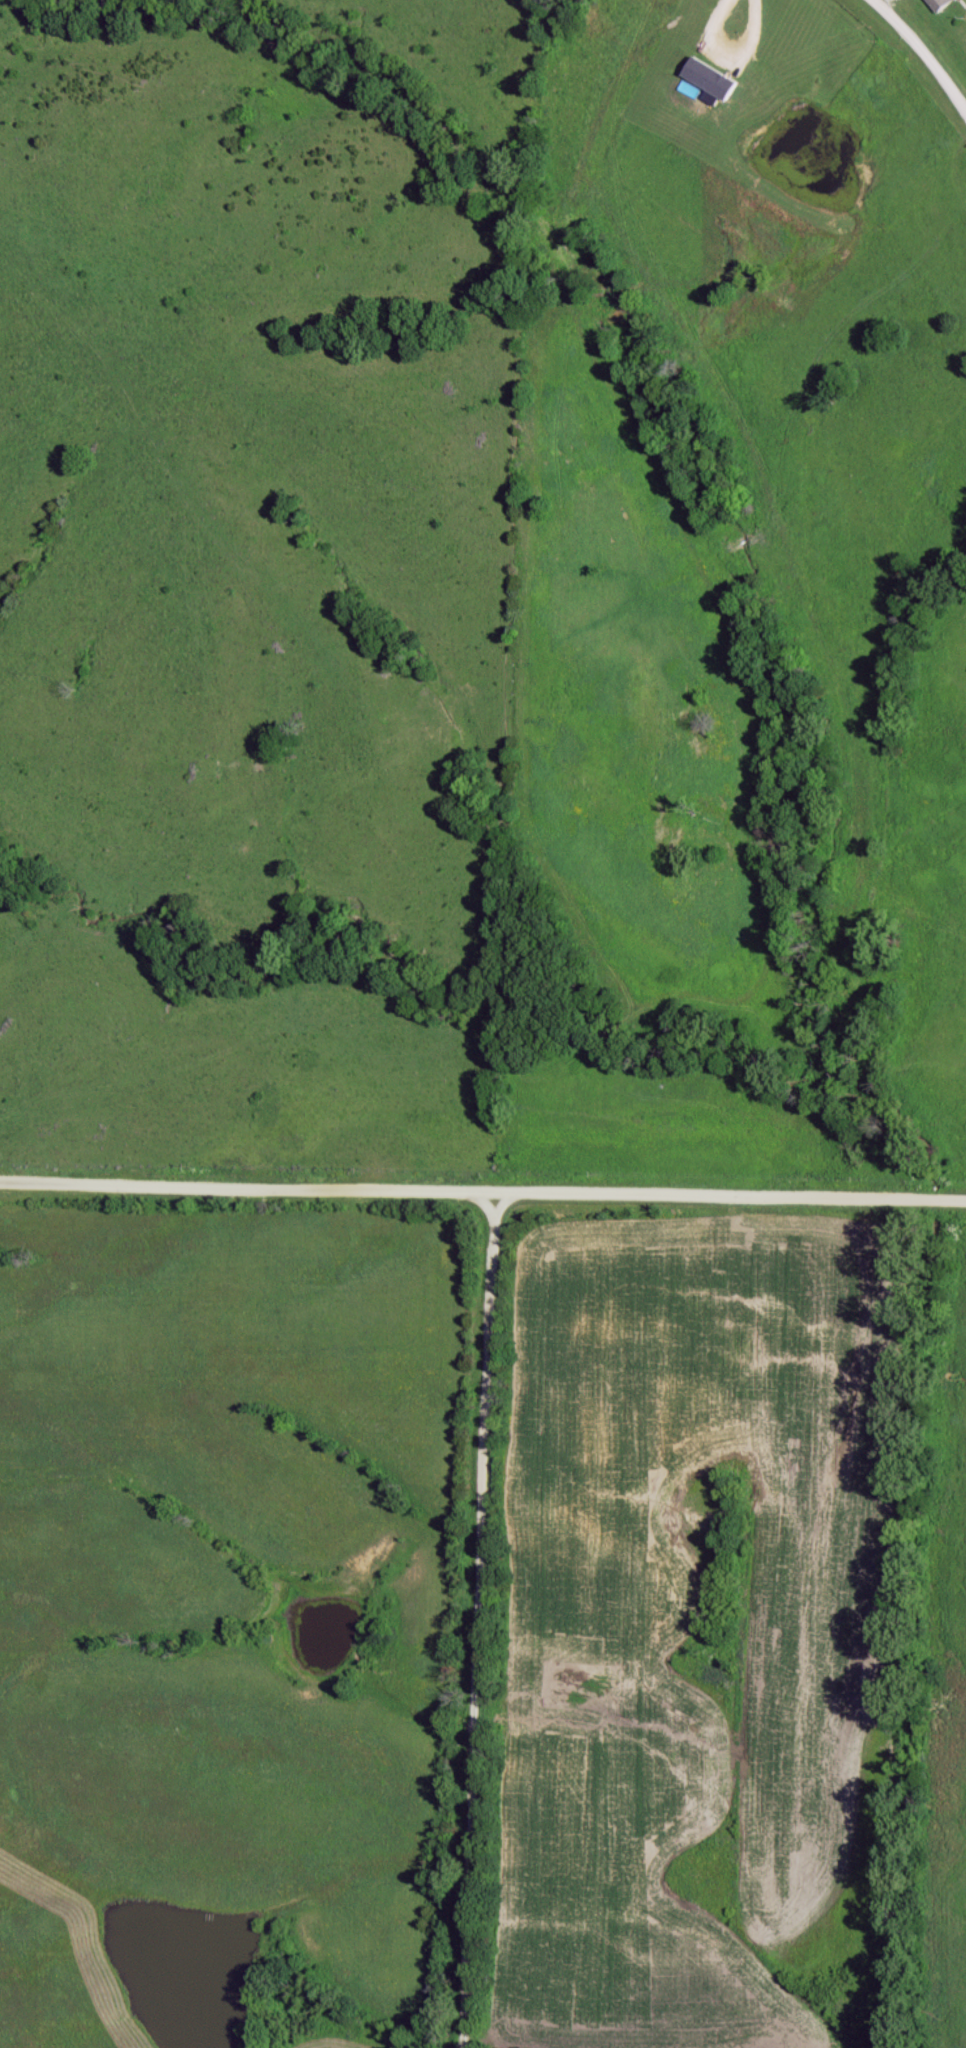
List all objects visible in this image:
building: (940, 5)
road: (915, 57)
road: (482, 1197)
road: (472, 1622)

